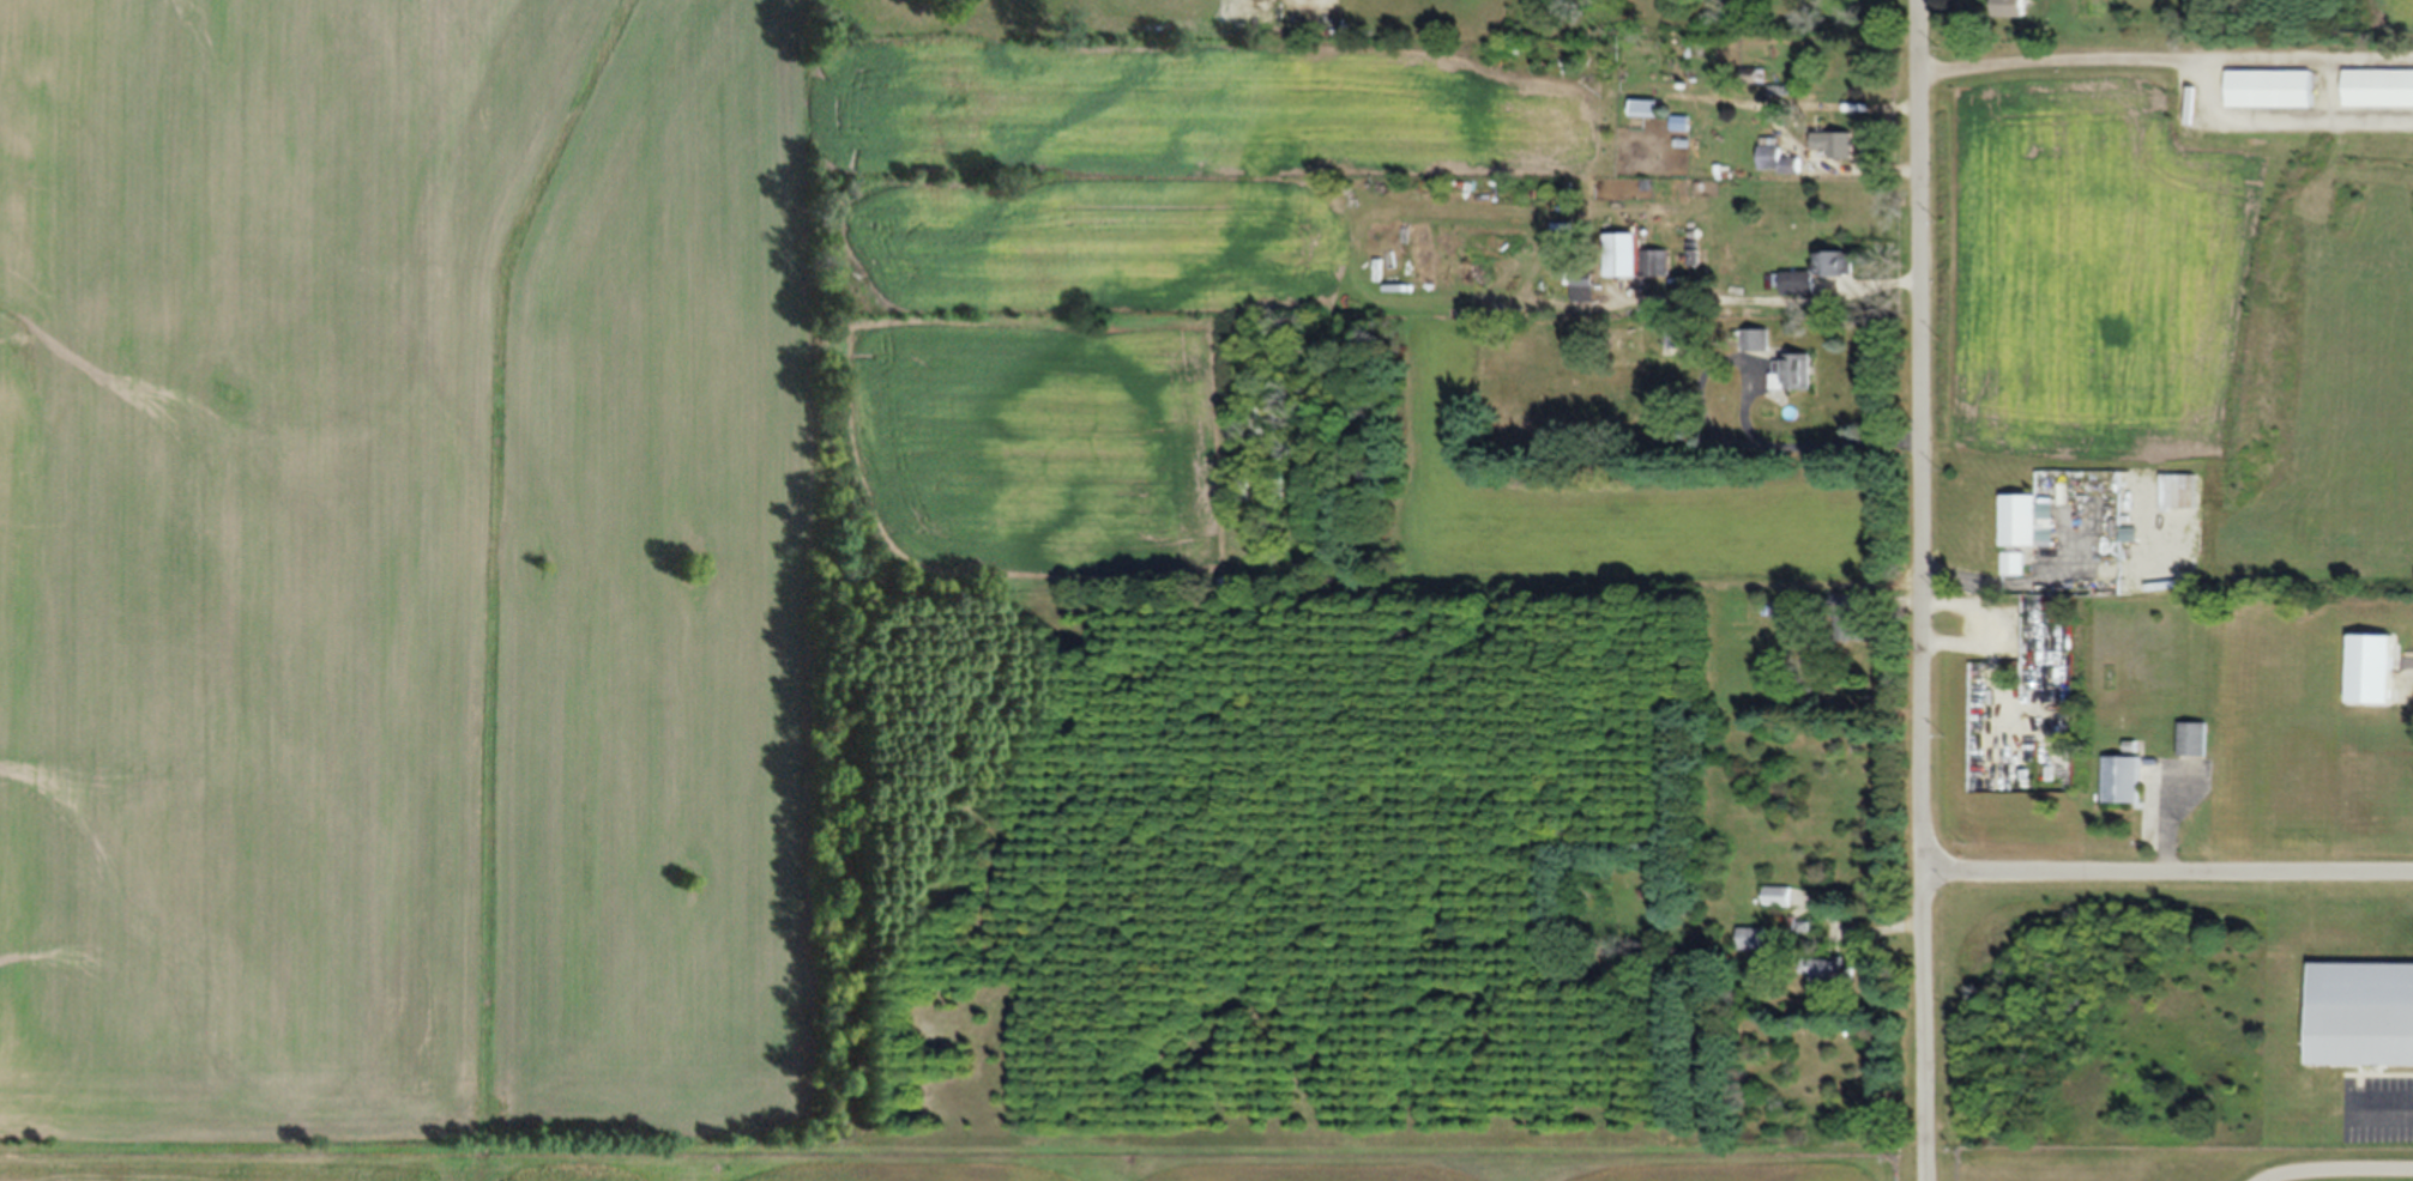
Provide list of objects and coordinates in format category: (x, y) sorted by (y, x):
building: (2013, 7)
road: (2058, 48)
building: (2379, 87)
building: (2270, 89)
building: (1780, 90)
building: (1646, 107)
building: (1679, 123)
building: (1834, 144)
building: (1775, 158)
building: (1622, 254)
building: (1654, 262)
building: (1817, 272)
building: (1580, 280)
building: (1756, 339)
building: (1792, 370)
road: (1744, 408)
building: (1265, 419)
building: (2026, 521)
building: (2013, 563)
crop: (410, 580)
road: (1918, 590)
building: (1851, 617)
building: (2369, 667)
building: (2191, 738)
building: (2122, 779)
road: (2166, 876)
building: (1778, 896)
building: (1751, 938)
building: (1830, 973)
building: (2361, 1012)
building: (1824, 1059)
airport: (1298, 1168)

